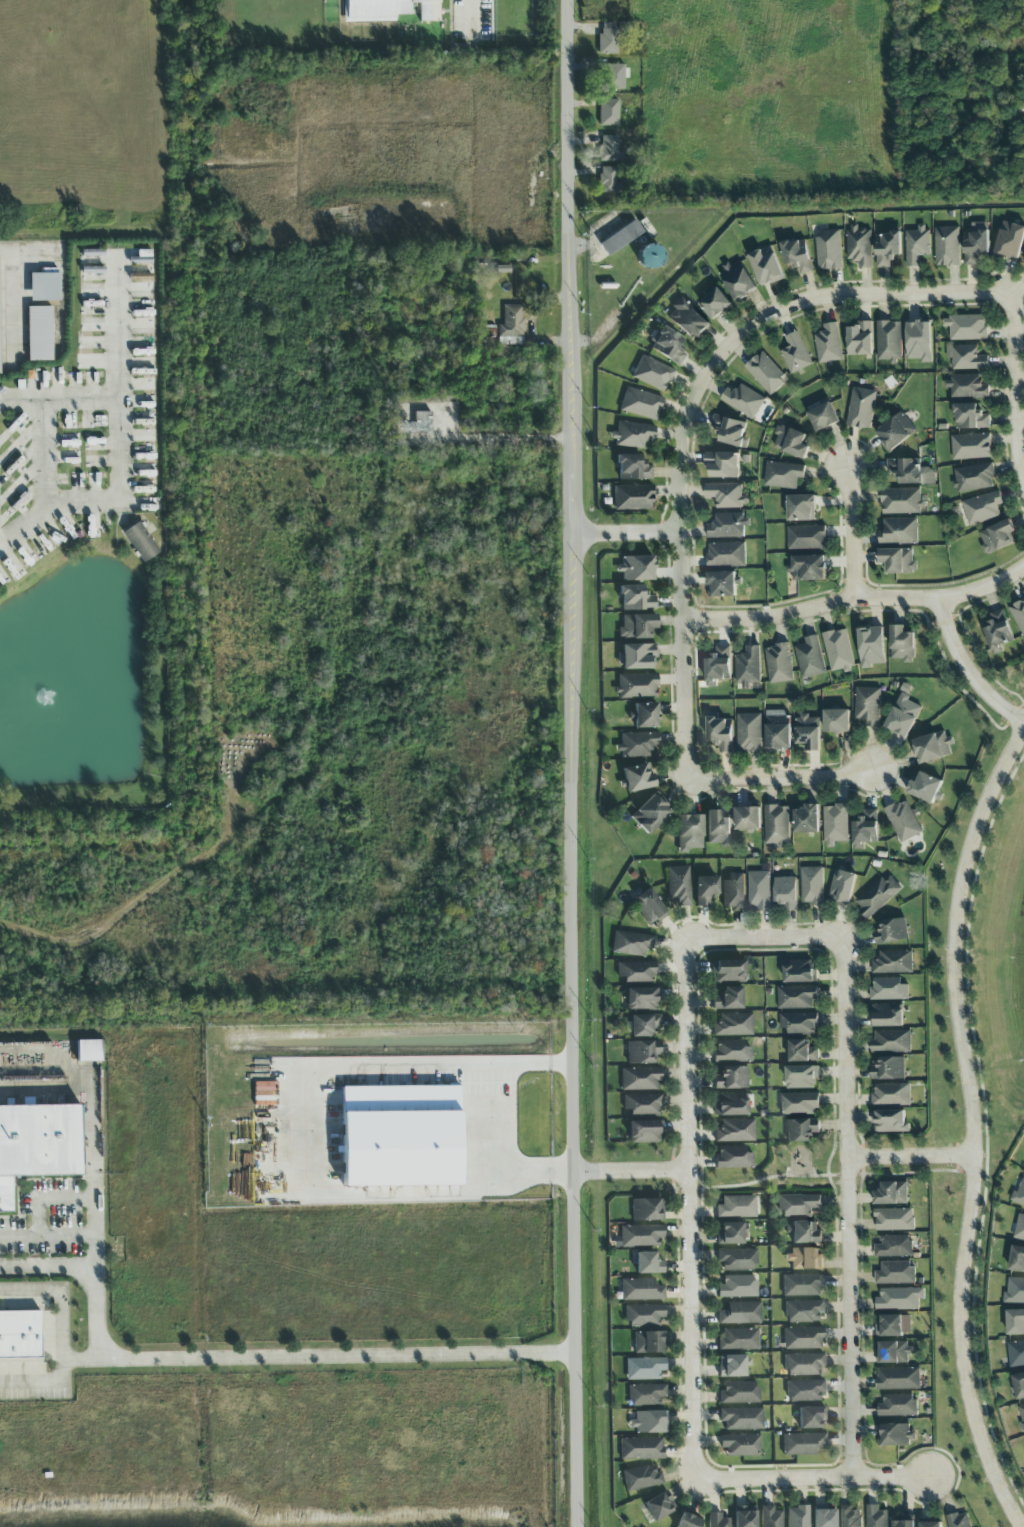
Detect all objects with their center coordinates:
building: (388, 10)
road: (471, 11)
building: (608, 39)
building: (613, 77)
building: (608, 113)
building: (608, 149)
building: (608, 181)
building: (620, 238)
building: (1010, 240)
building: (917, 245)
building: (860, 246)
building: (947, 246)
building: (975, 246)
building: (887, 248)
building: (828, 251)
building: (797, 256)
building: (142, 259)
building: (1023, 259)
building: (766, 266)
building: (140, 278)
building: (738, 280)
building: (44, 287)
road: (13, 296)
building: (715, 303)
building: (688, 320)
building: (512, 326)
building: (966, 327)
building: (39, 334)
building: (860, 339)
building: (889, 340)
building: (919, 341)
building: (828, 344)
building: (668, 347)
building: (795, 354)
building: (966, 357)
building: (766, 373)
building: (652, 374)
road: (1015, 385)
building: (967, 386)
road: (58, 398)
building: (743, 400)
building: (640, 405)
building: (861, 408)
road: (692, 410)
building: (823, 417)
building: (971, 417)
building: (423, 423)
building: (730, 431)
building: (895, 432)
building: (632, 435)
road: (516, 439)
building: (791, 442)
road: (119, 445)
building: (971, 446)
road: (43, 455)
building: (722, 465)
building: (632, 468)
building: (911, 472)
building: (783, 475)
building: (974, 477)
building: (726, 495)
building: (633, 498)
building: (902, 501)
building: (802, 508)
building: (982, 508)
building: (727, 526)
building: (899, 531)
road: (852, 532)
road: (625, 533)
building: (996, 536)
building: (806, 537)
building: (140, 543)
building: (726, 554)
building: (898, 561)
building: (808, 568)
building: (636, 569)
building: (722, 584)
road: (856, 595)
building: (636, 599)
building: (1018, 616)
building: (637, 627)
building: (998, 632)
building: (902, 644)
building: (871, 647)
building: (838, 650)
building: (637, 657)
building: (810, 658)
building: (779, 663)
building: (718, 667)
building: (748, 667)
road: (968, 669)
building: (637, 687)
fountain: (44, 703)
building: (868, 705)
building: (645, 716)
building: (903, 716)
building: (837, 721)
building: (778, 730)
building: (749, 732)
building: (809, 732)
building: (721, 733)
building: (637, 745)
building: (932, 748)
road: (572, 763)
building: (638, 778)
road: (788, 778)
building: (926, 788)
building: (650, 815)
building: (748, 819)
building: (807, 819)
building: (903, 821)
building: (835, 824)
building: (777, 825)
building: (718, 830)
building: (865, 830)
building: (689, 833)
building: (679, 886)
building: (812, 886)
building: (842, 887)
building: (705, 890)
building: (759, 891)
building: (733, 893)
building: (785, 893)
building: (877, 896)
building: (649, 907)
building: (892, 932)
road: (767, 937)
building: (631, 944)
building: (893, 962)
building: (800, 971)
building: (728, 972)
building: (636, 973)
building: (889, 989)
building: (796, 997)
building: (642, 999)
building: (728, 1000)
building: (887, 1015)
building: (799, 1023)
building: (644, 1026)
building: (733, 1026)
building: (891, 1041)
building: (802, 1051)
building: (89, 1052)
building: (642, 1052)
building: (731, 1052)
building: (889, 1069)
building: (802, 1077)
building: (731, 1079)
building: (639, 1080)
road: (85, 1091)
building: (891, 1094)
building: (799, 1103)
building: (641, 1105)
building: (730, 1105)
building: (890, 1122)
road: (975, 1128)
road: (310, 1130)
building: (802, 1130)
building: (644, 1132)
building: (735, 1132)
building: (401, 1137)
building: (39, 1145)
road: (917, 1157)
building: (733, 1158)
road: (633, 1171)
park: (789, 1172)
road: (773, 1177)
building: (891, 1193)
building: (1019, 1194)
road: (49, 1199)
building: (736, 1206)
building: (799, 1207)
building: (646, 1210)
road: (856, 1210)
road: (693, 1212)
building: (894, 1219)
road: (94, 1220)
building: (1020, 1228)
building: (732, 1233)
building: (802, 1234)
road: (47, 1235)
building: (642, 1239)
building: (894, 1246)
building: (1017, 1259)
building: (804, 1260)
building: (736, 1261)
building: (648, 1266)
road: (94, 1267)
building: (895, 1273)
building: (737, 1287)
building: (803, 1287)
building: (642, 1290)
building: (1015, 1291)
building: (900, 1298)
building: (803, 1313)
building: (739, 1314)
building: (644, 1318)
building: (1015, 1322)
building: (890, 1326)
building: (18, 1333)
road: (61, 1335)
building: (803, 1340)
building: (737, 1341)
building: (649, 1345)
building: (893, 1352)
building: (1016, 1353)
road: (338, 1356)
road: (81, 1359)
building: (804, 1367)
building: (731, 1369)
building: (645, 1371)
building: (898, 1378)
building: (1019, 1385)
building: (806, 1393)
building: (739, 1394)
building: (647, 1397)
building: (897, 1406)
building: (1021, 1414)
building: (813, 1419)
building: (741, 1420)
building: (647, 1424)
building: (895, 1434)
building: (740, 1446)
building: (804, 1446)
building: (641, 1453)
road: (814, 1478)
building: (641, 1482)
building: (659, 1507)
building: (770, 1517)
building: (798, 1517)
building: (850, 1517)
building: (876, 1517)
building: (824, 1518)
building: (745, 1519)
building: (716, 1520)
building: (959, 1520)
building: (690, 1521)
building: (904, 1522)
building: (931, 1524)

